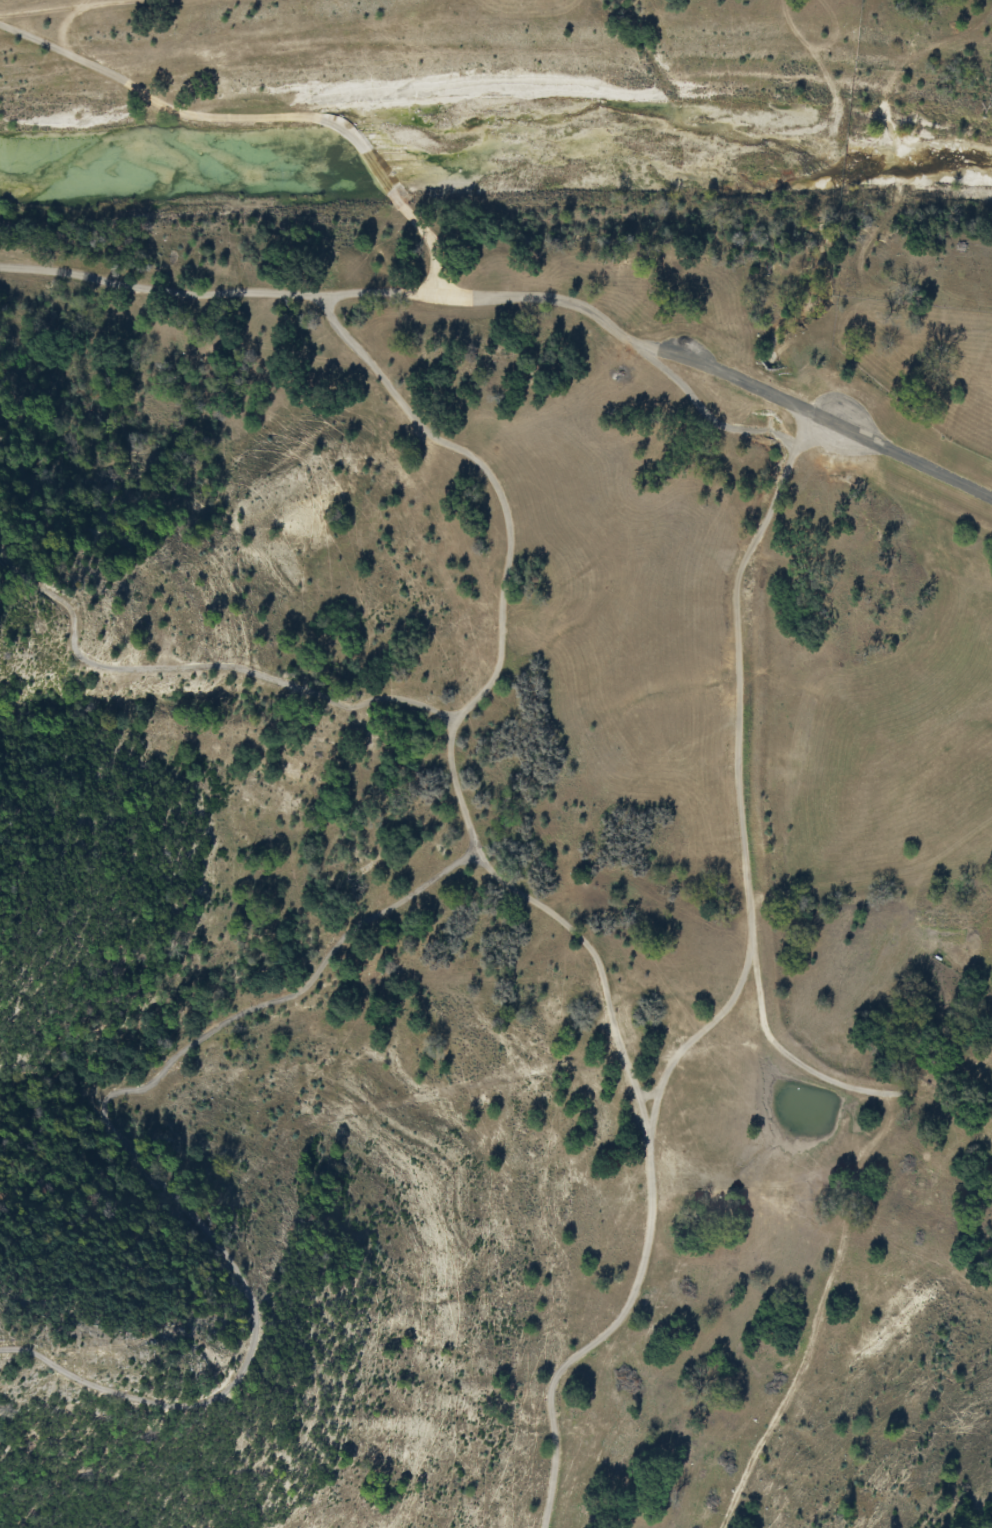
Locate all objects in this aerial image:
river: (496, 144)
airport runway: (848, 426)
road: (879, 872)
road: (737, 992)

